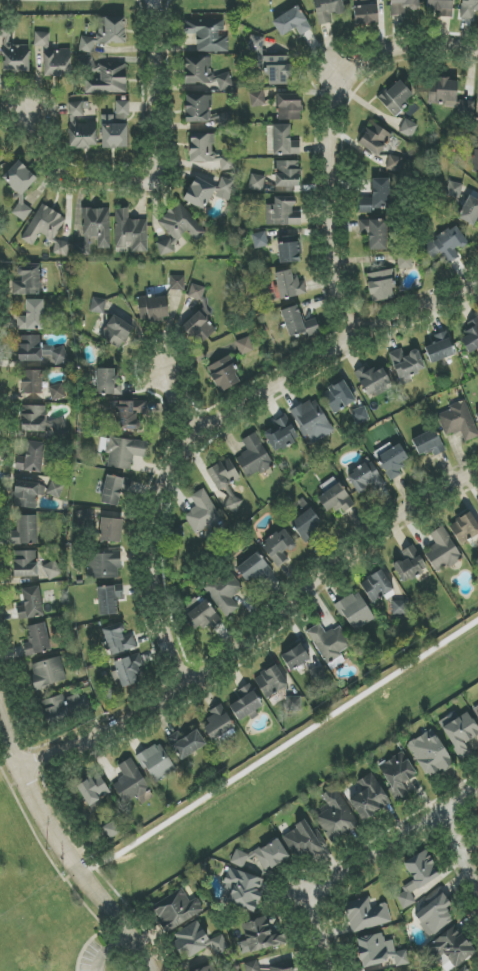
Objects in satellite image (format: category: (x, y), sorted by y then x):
building: (402, 7)
building: (442, 7)
building: (468, 9)
building: (328, 10)
building: (366, 14)
building: (292, 22)
building: (105, 33)
building: (207, 35)
building: (53, 57)
building: (16, 59)
building: (271, 63)
building: (205, 74)
building: (106, 79)
building: (442, 92)
building: (396, 97)
building: (257, 99)
building: (289, 107)
building: (465, 108)
building: (205, 112)
road: (324, 118)
building: (80, 128)
building: (116, 128)
building: (408, 128)
building: (374, 139)
building: (284, 141)
building: (208, 154)
building: (475, 159)
building: (394, 163)
road: (155, 169)
building: (287, 174)
building: (256, 183)
building: (207, 189)
building: (377, 196)
building: (469, 209)
building: (282, 212)
building: (43, 225)
building: (98, 228)
building: (176, 229)
building: (130, 231)
building: (375, 233)
building: (260, 240)
building: (448, 245)
building: (61, 248)
building: (288, 250)
building: (404, 260)
building: (28, 281)
building: (177, 283)
building: (289, 284)
building: (381, 285)
building: (196, 292)
building: (98, 306)
building: (153, 308)
building: (32, 316)
building: (298, 322)
building: (199, 328)
building: (117, 331)
building: (471, 336)
building: (244, 346)
building: (29, 348)
building: (440, 348)
building: (57, 355)
building: (406, 365)
building: (224, 374)
building: (32, 382)
building: (108, 382)
building: (373, 382)
building: (57, 392)
road: (179, 393)
building: (338, 397)
road: (215, 409)
building: (477, 414)
building: (127, 415)
building: (360, 415)
building: (33, 418)
building: (312, 421)
building: (459, 421)
building: (58, 426)
building: (281, 434)
building: (427, 443)
building: (122, 451)
building: (254, 457)
building: (31, 458)
building: (392, 460)
building: (365, 478)
building: (225, 482)
building: (55, 489)
building: (114, 489)
building: (26, 495)
building: (333, 496)
building: (202, 513)
building: (83, 517)
building: (306, 522)
building: (465, 528)
building: (111, 530)
building: (26, 531)
building: (279, 547)
building: (442, 551)
building: (25, 564)
building: (409, 564)
building: (104, 565)
building: (253, 568)
building: (52, 570)
building: (376, 586)
building: (224, 592)
building: (108, 599)
building: (30, 604)
building: (355, 611)
building: (202, 618)
road: (251, 624)
building: (37, 639)
building: (118, 639)
building: (329, 643)
building: (295, 657)
building: (128, 670)
building: (48, 672)
building: (317, 674)
building: (270, 682)
building: (245, 704)
building: (64, 706)
building: (476, 711)
building: (218, 727)
building: (459, 732)
building: (186, 743)
building: (430, 753)
building: (156, 762)
building: (397, 775)
road: (17, 783)
building: (131, 783)
building: (93, 791)
building: (369, 797)
building: (477, 816)
building: (335, 818)
building: (111, 829)
road: (34, 832)
road: (391, 832)
building: (303, 840)
road: (66, 851)
road: (457, 852)
building: (263, 856)
building: (417, 877)
building: (243, 889)
building: (176, 909)
road: (91, 911)
building: (434, 913)
building: (366, 914)
road: (316, 927)
building: (260, 936)
building: (197, 942)
building: (450, 949)
road: (109, 950)
building: (380, 952)
building: (252, 966)
building: (282, 967)
building: (207, 969)
building: (464, 969)

